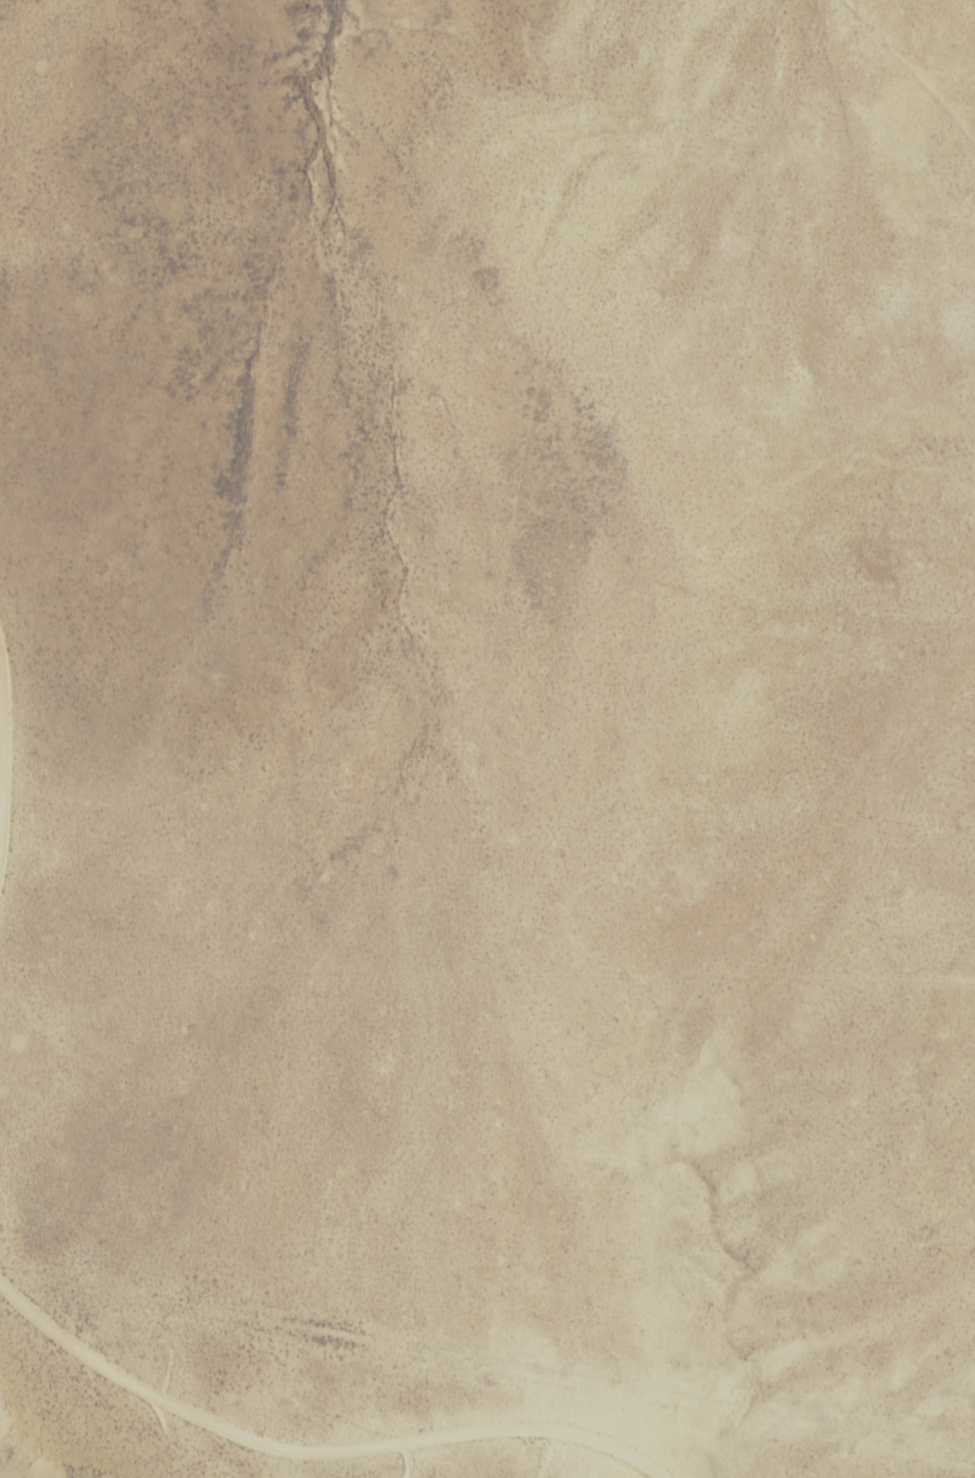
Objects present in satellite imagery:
road: (1, 713)
road: (308, 1452)

